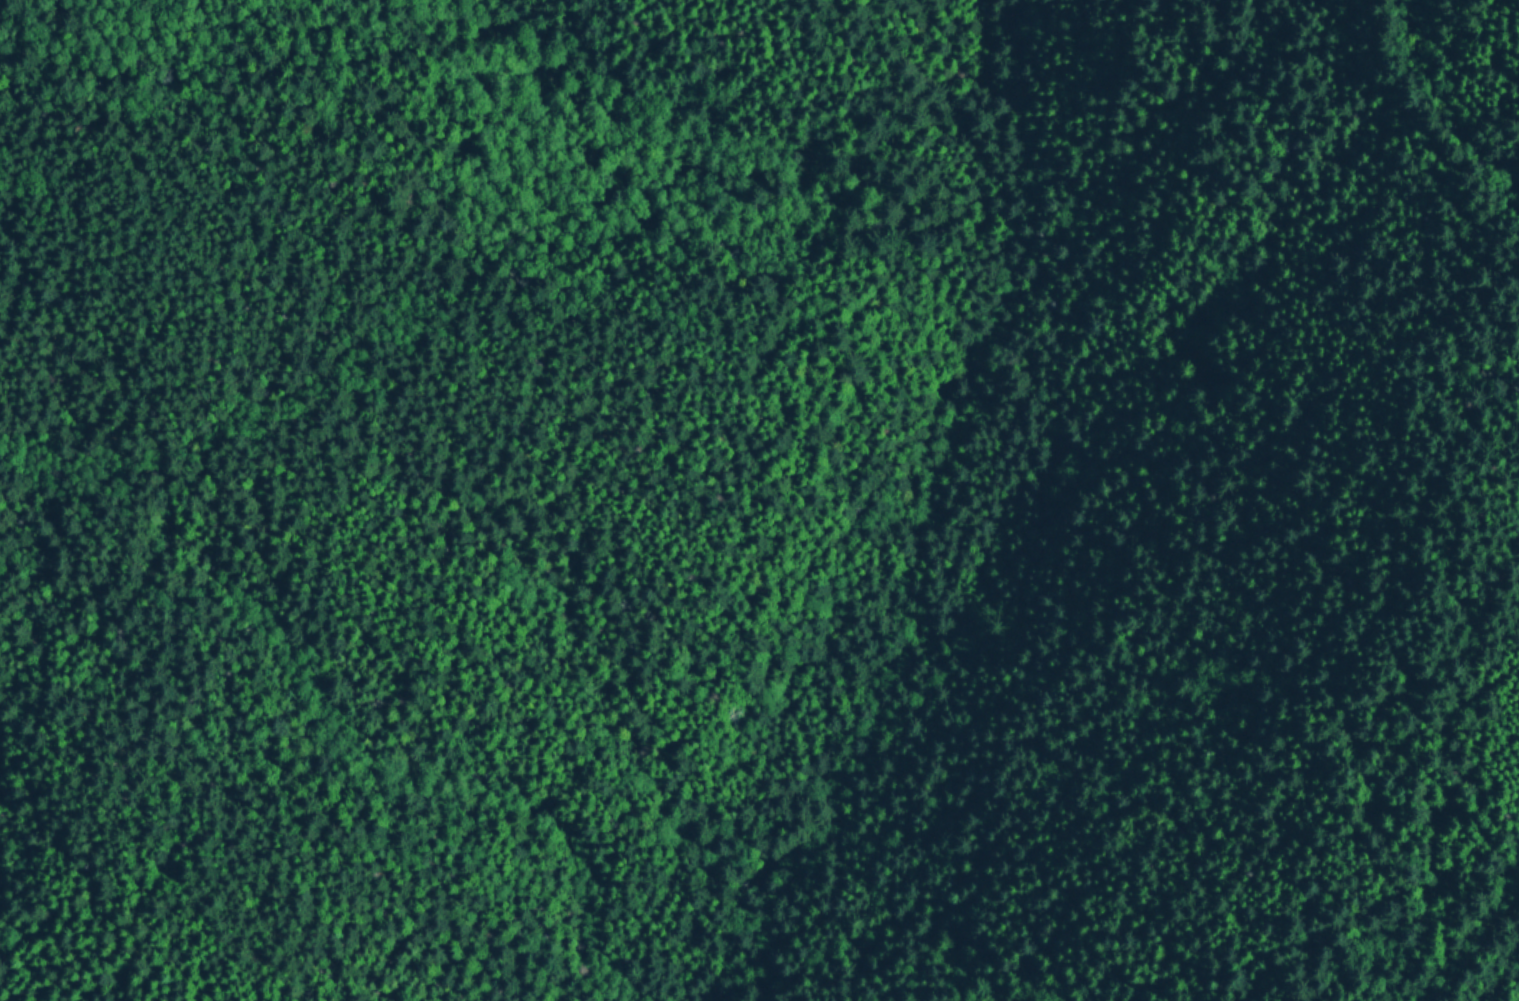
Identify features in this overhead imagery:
road: (1471, 955)

